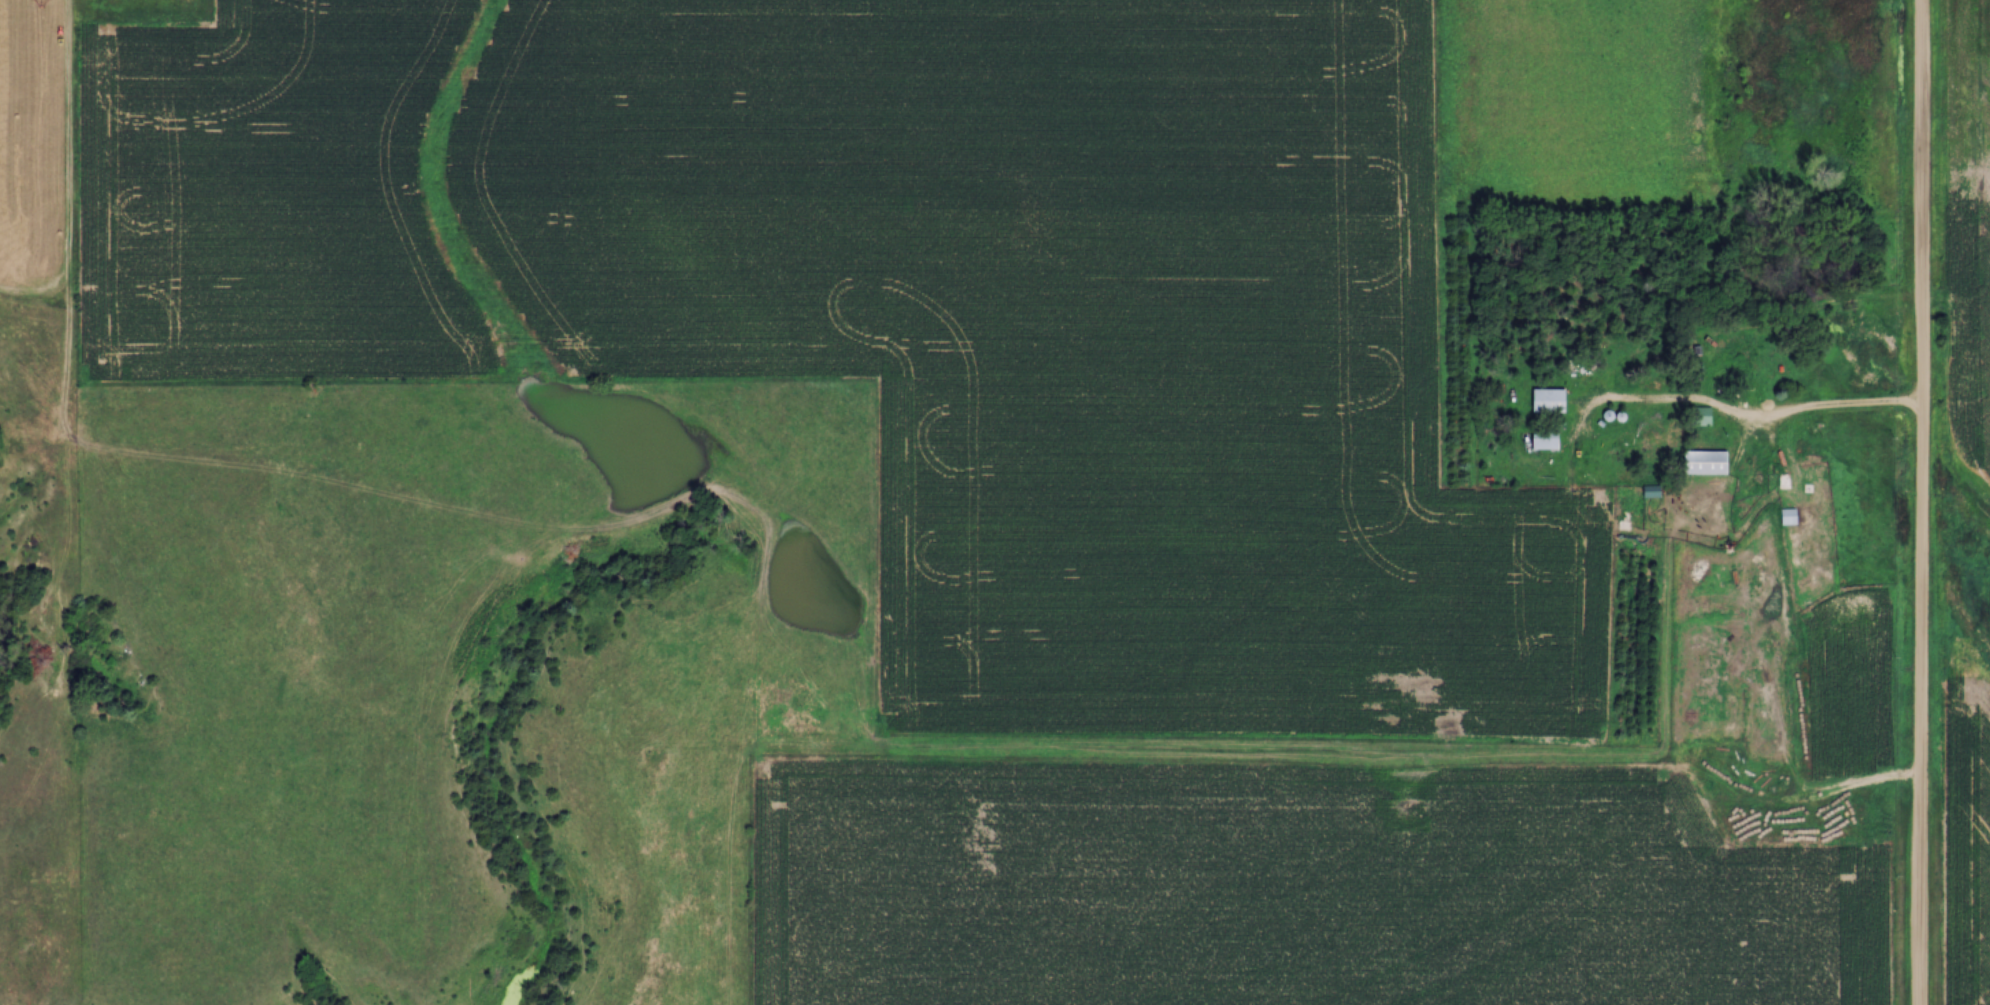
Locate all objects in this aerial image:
building: (1585, 370)
building: (1738, 377)
building: (1550, 401)
building: (1701, 417)
road: (1754, 426)
building: (1548, 439)
building: (1706, 464)
building: (1653, 492)
road: (1922, 502)
building: (1788, 517)
building: (1704, 550)

